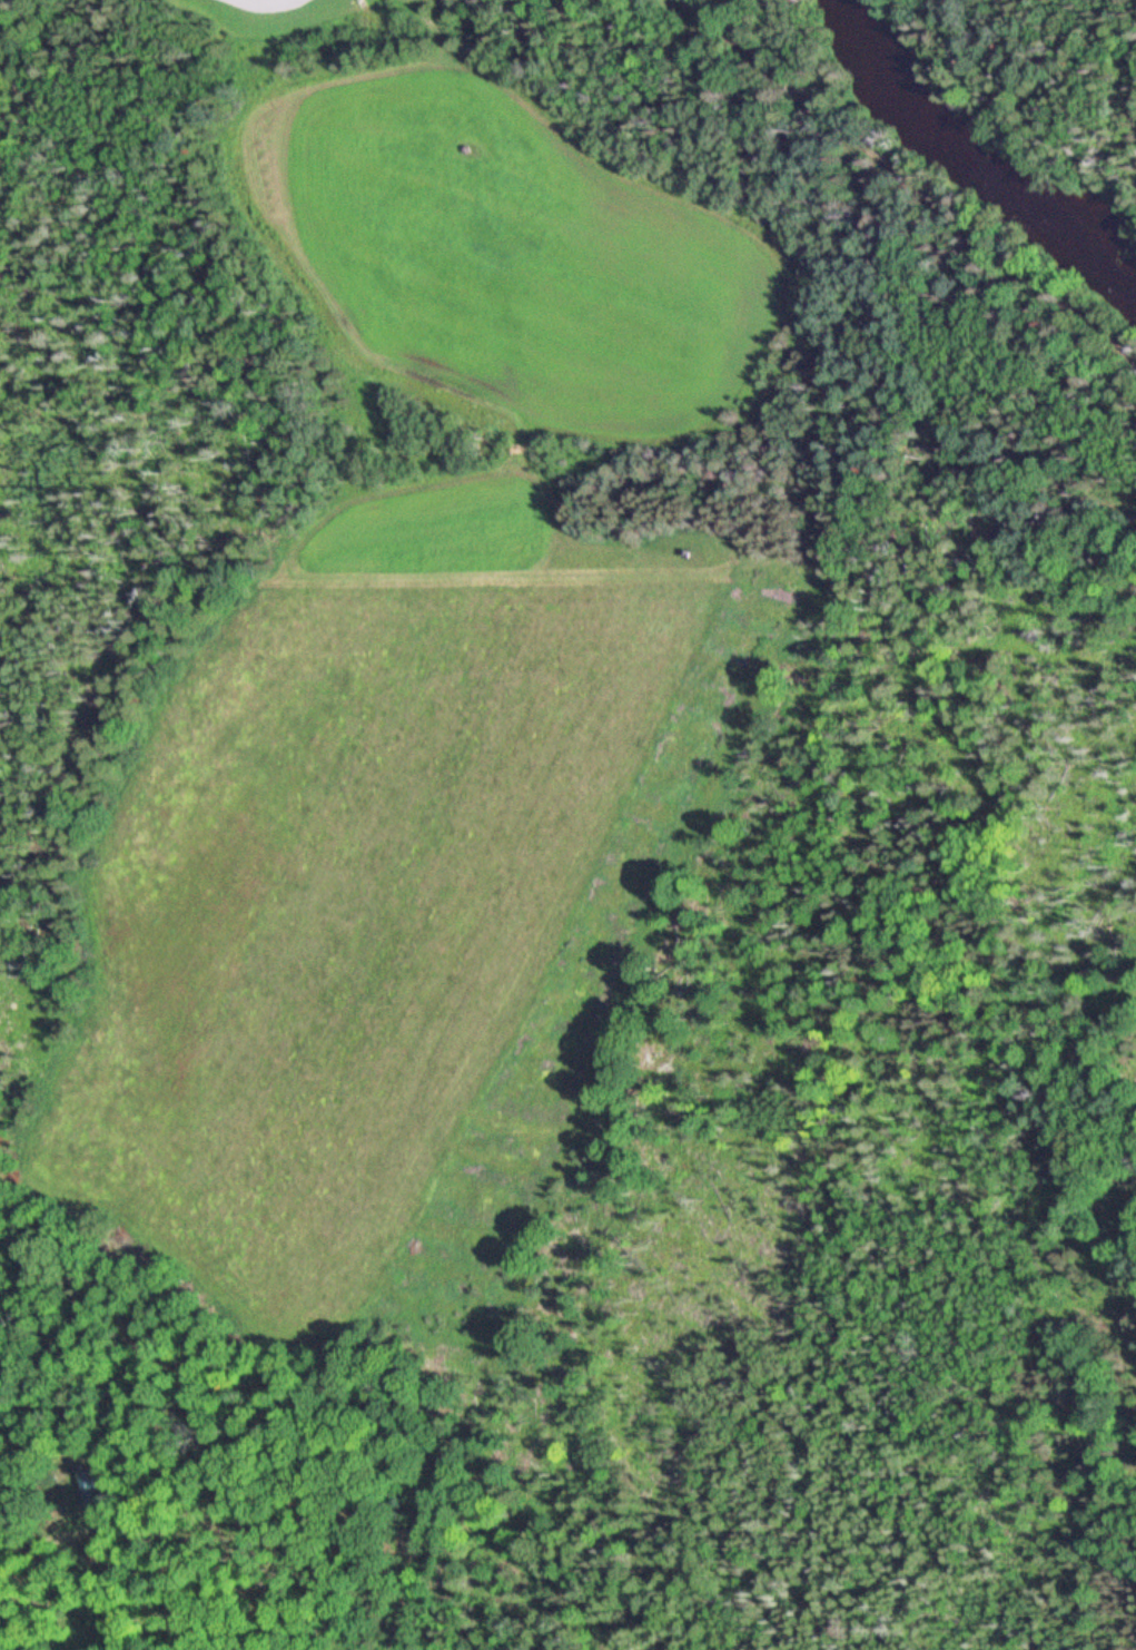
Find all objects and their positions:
river: (974, 163)
building: (89, 1490)

